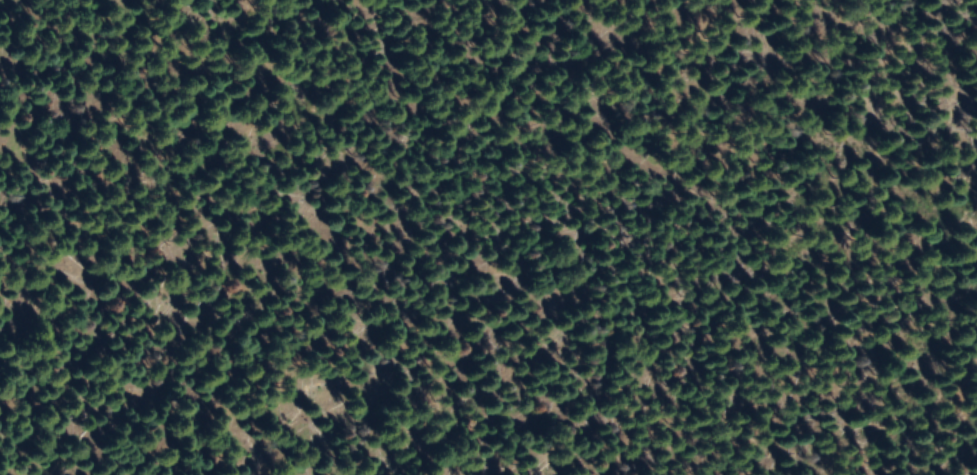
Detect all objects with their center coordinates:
road: (89, 75)

